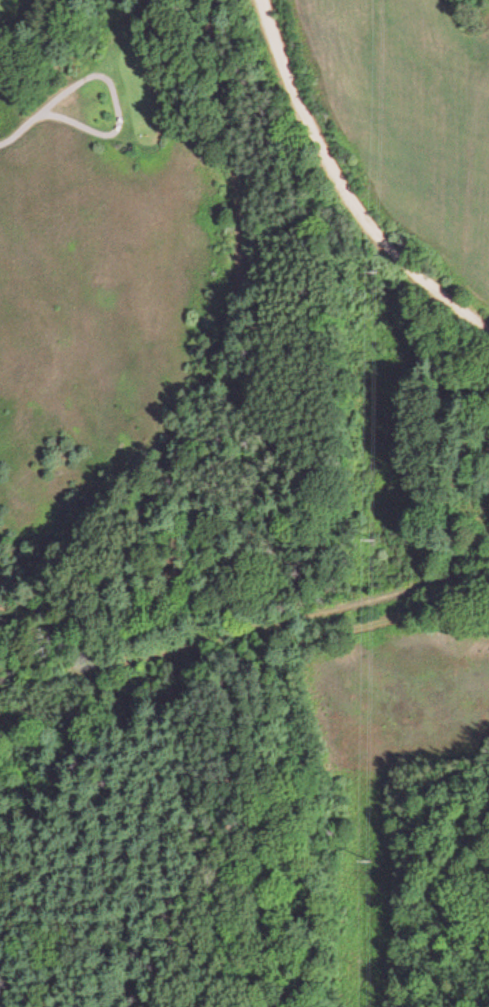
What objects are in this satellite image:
park: (92, 142)
road: (340, 190)

